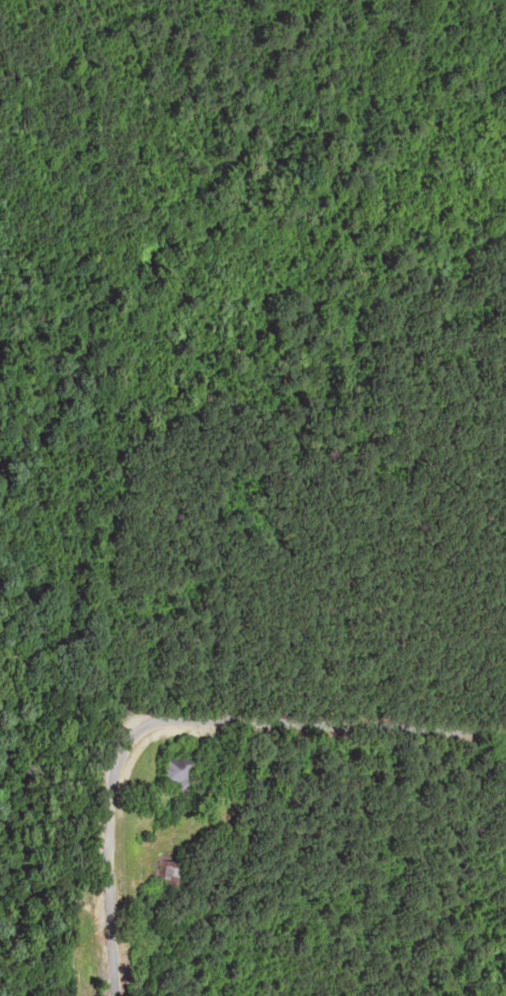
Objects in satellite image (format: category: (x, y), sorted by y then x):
road: (329, 742)
building: (174, 772)
road: (142, 868)
building: (168, 874)

